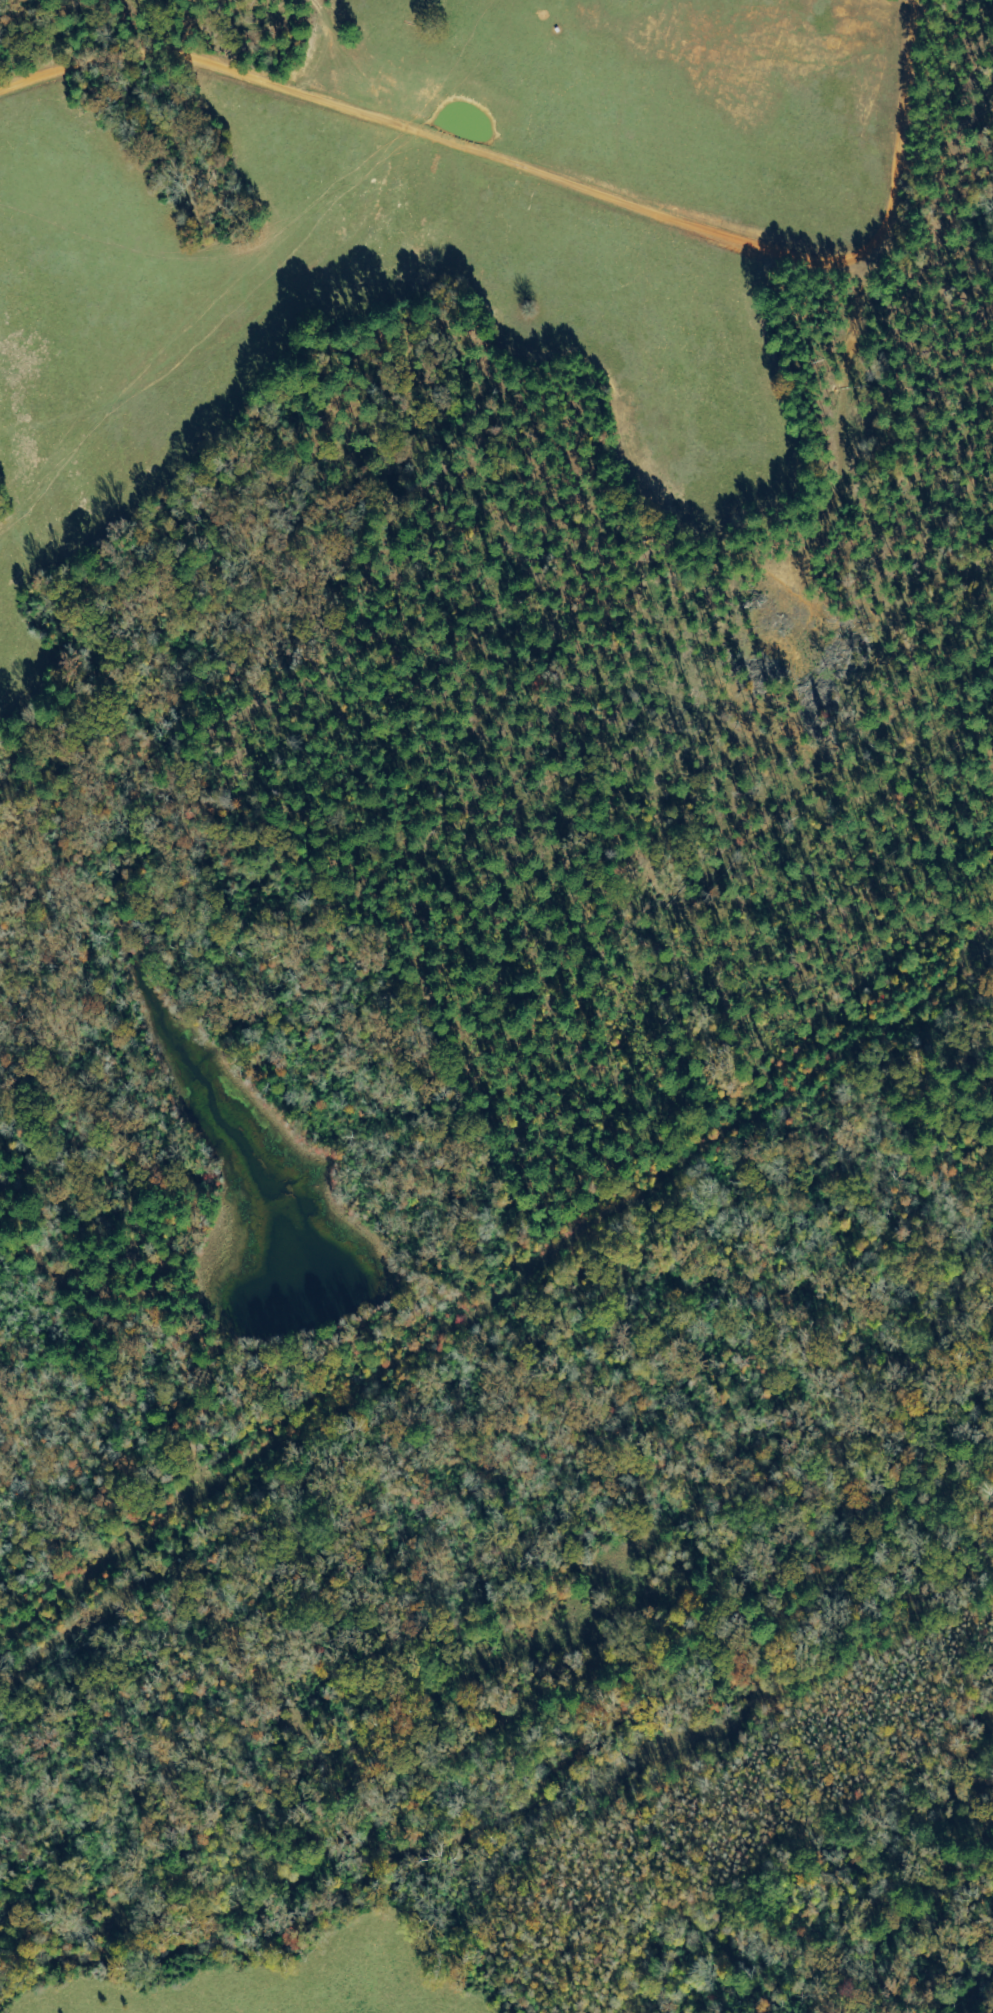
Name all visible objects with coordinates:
road: (201, 91)

